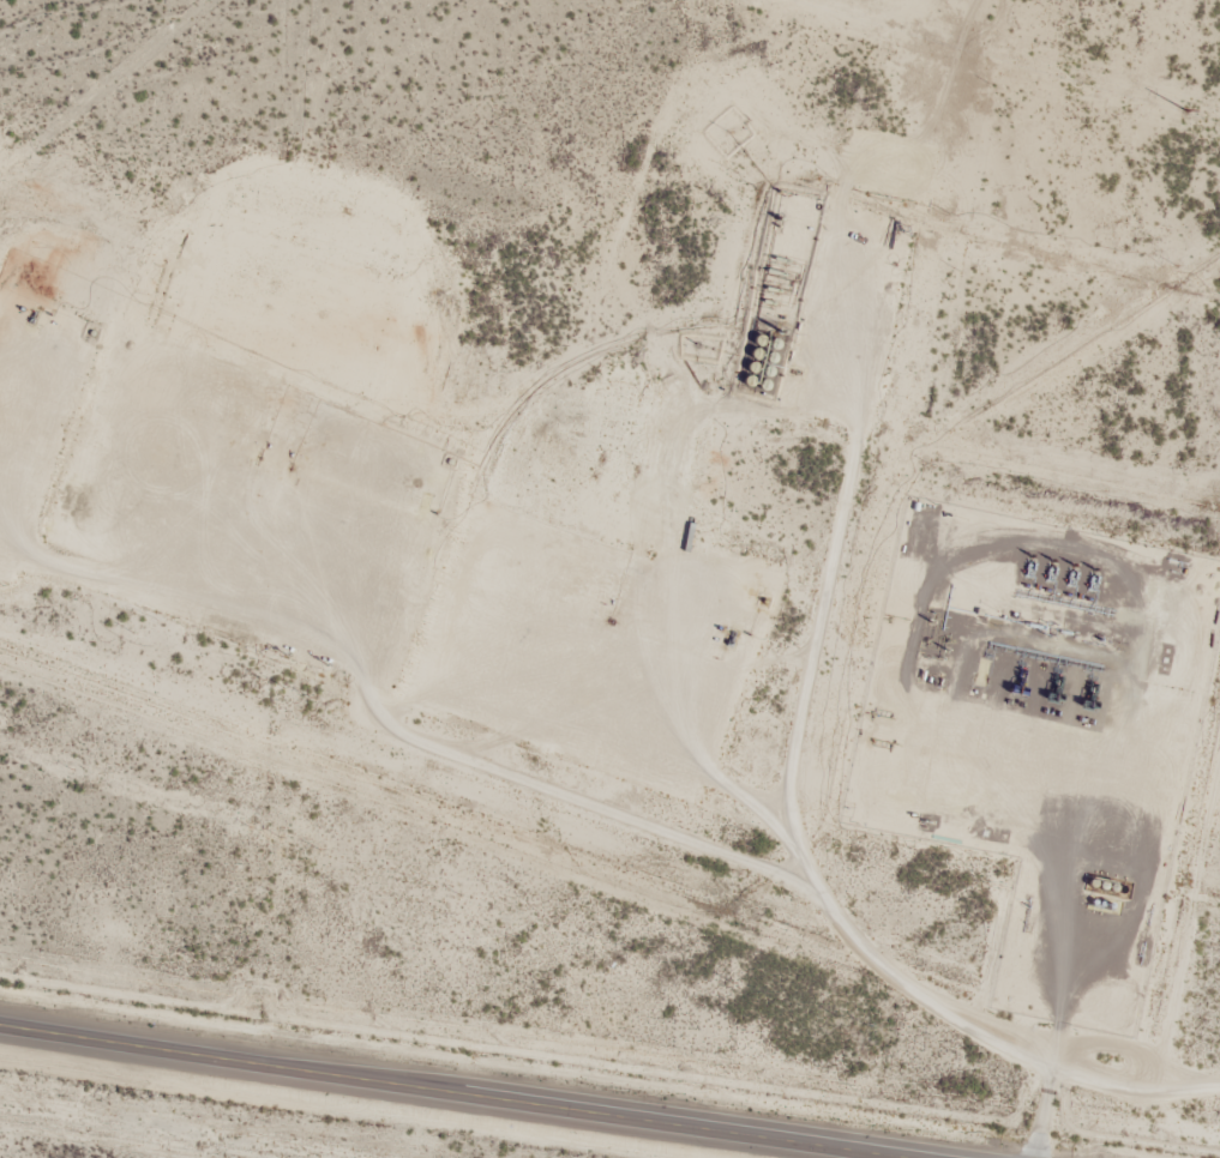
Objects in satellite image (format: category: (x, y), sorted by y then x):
road: (453, 1092)

